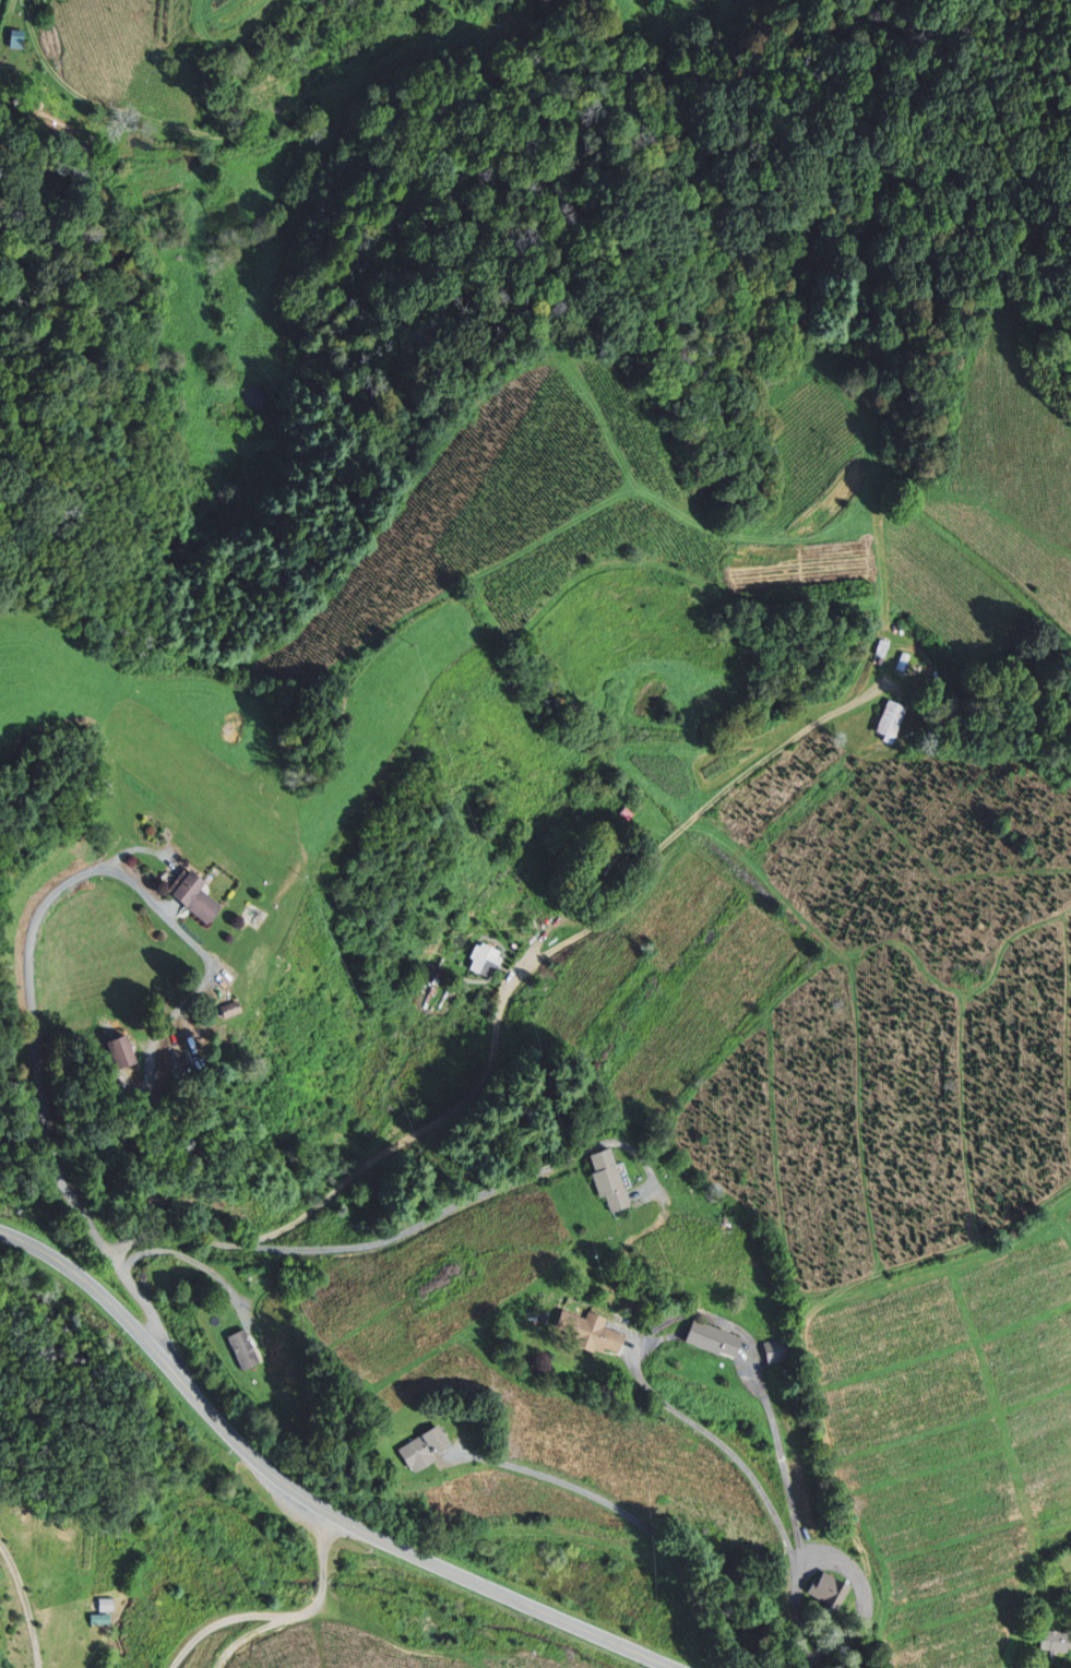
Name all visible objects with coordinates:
building: (880, 720)
building: (597, 868)
building: (198, 898)
building: (248, 915)
building: (481, 960)
road: (542, 961)
road: (33, 985)
road: (529, 1176)
building: (586, 1177)
building: (376, 1203)
road: (189, 1238)
road: (674, 1319)
building: (590, 1332)
building: (710, 1339)
building: (250, 1349)
road: (240, 1445)
building: (430, 1449)
road: (799, 1562)
road: (845, 1569)
building: (831, 1595)
road: (25, 1605)
building: (97, 1606)
road: (284, 1615)
road: (798, 1620)
road: (596, 1636)
building: (1051, 1641)
building: (22, 1667)

